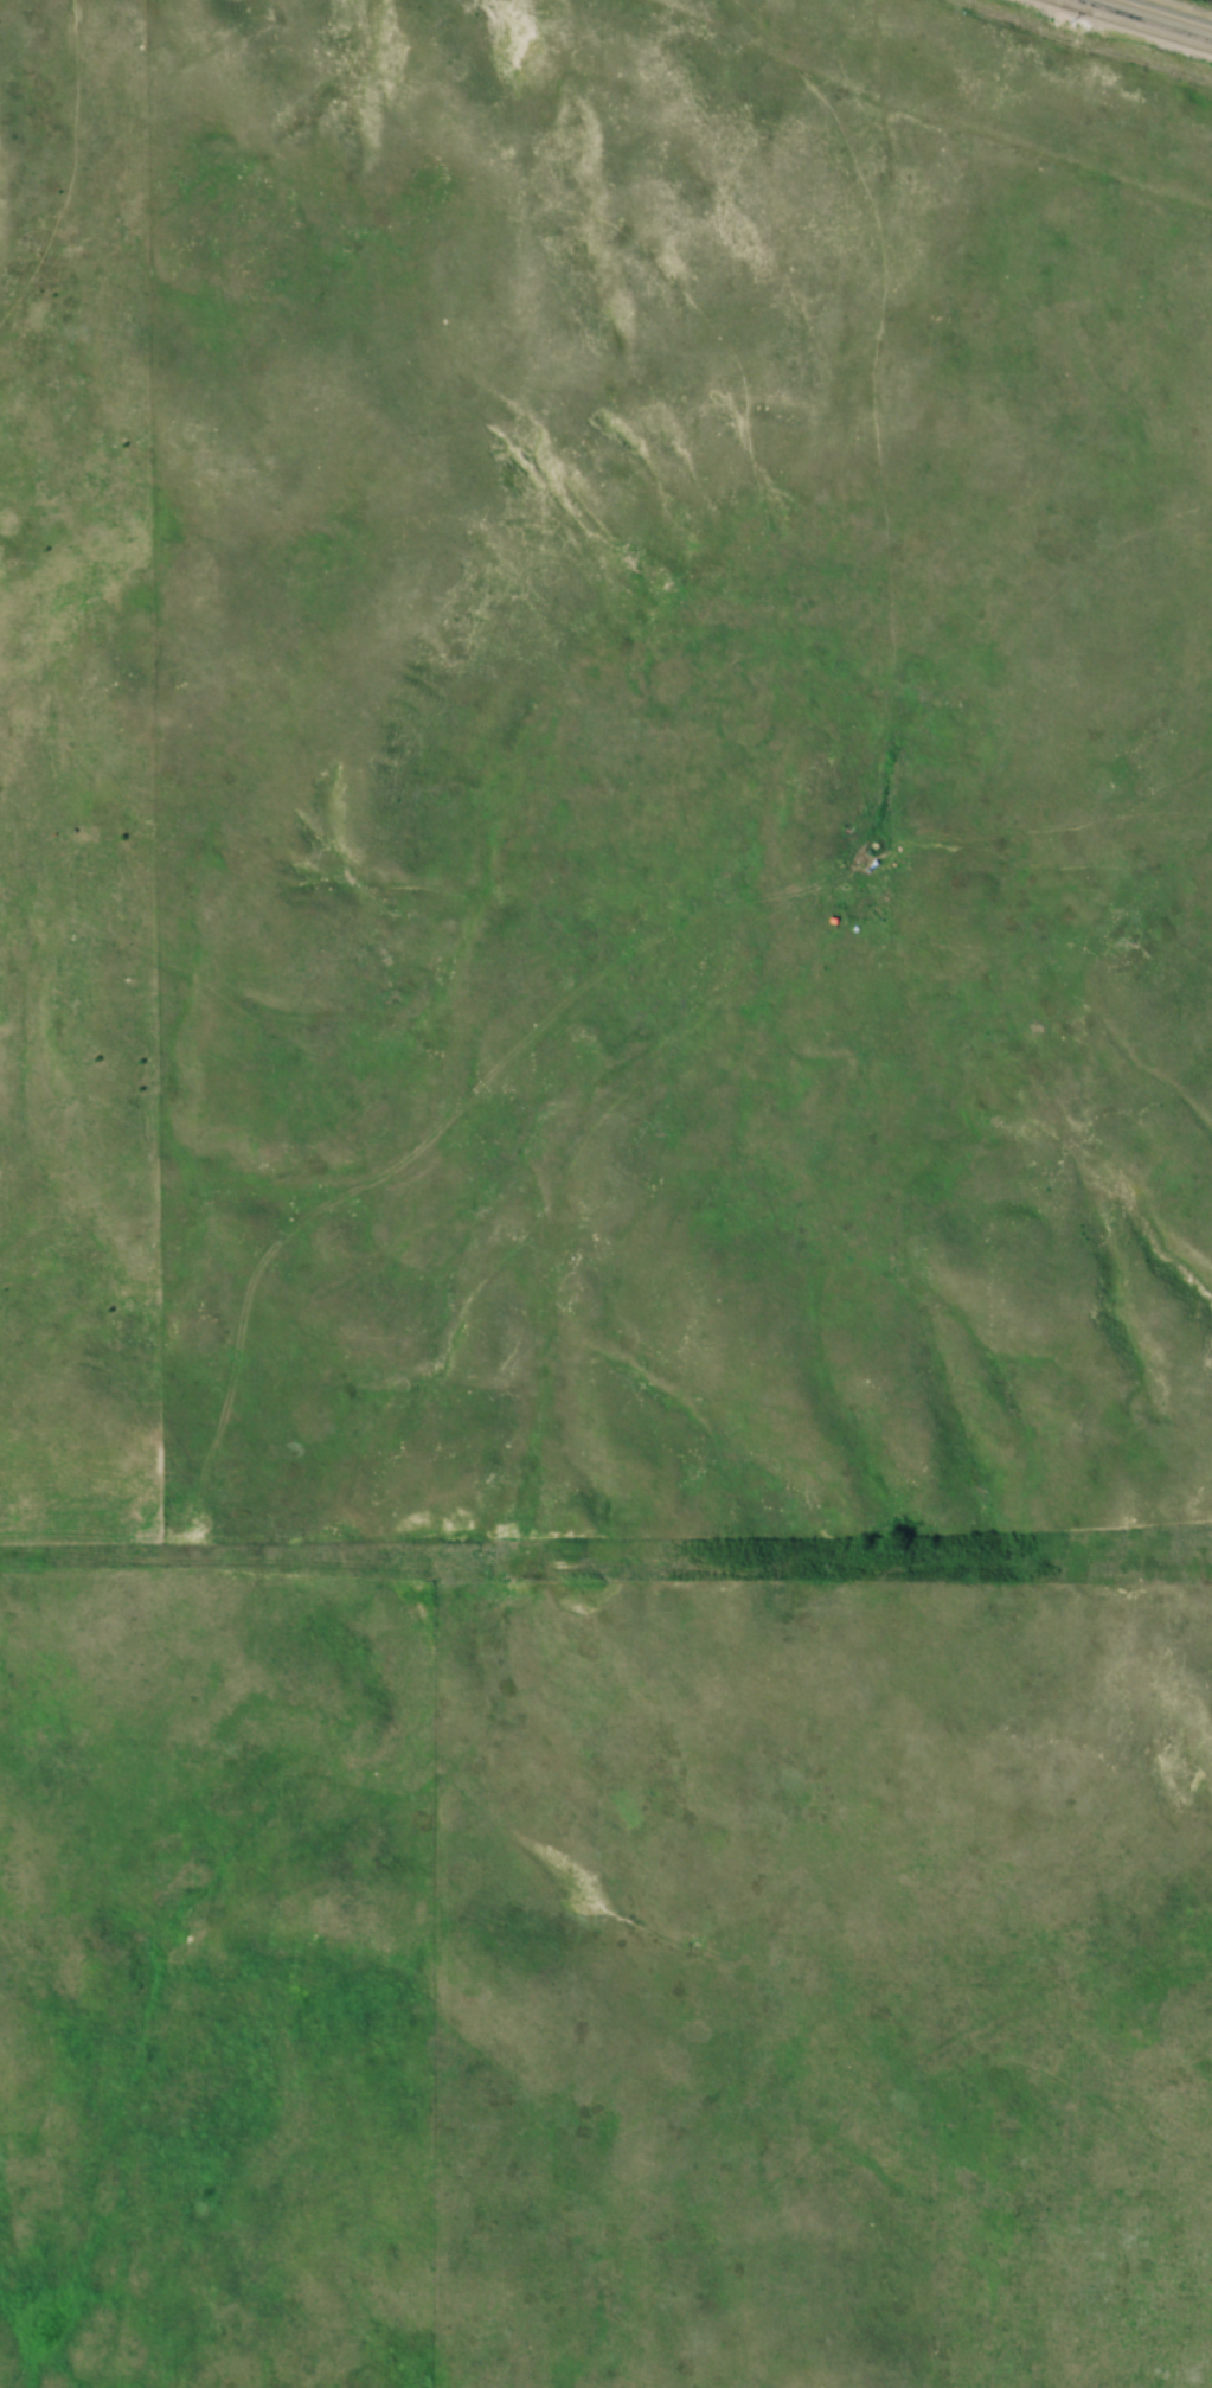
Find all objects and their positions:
railway: (1166, 14)
railway: (1133, 26)

